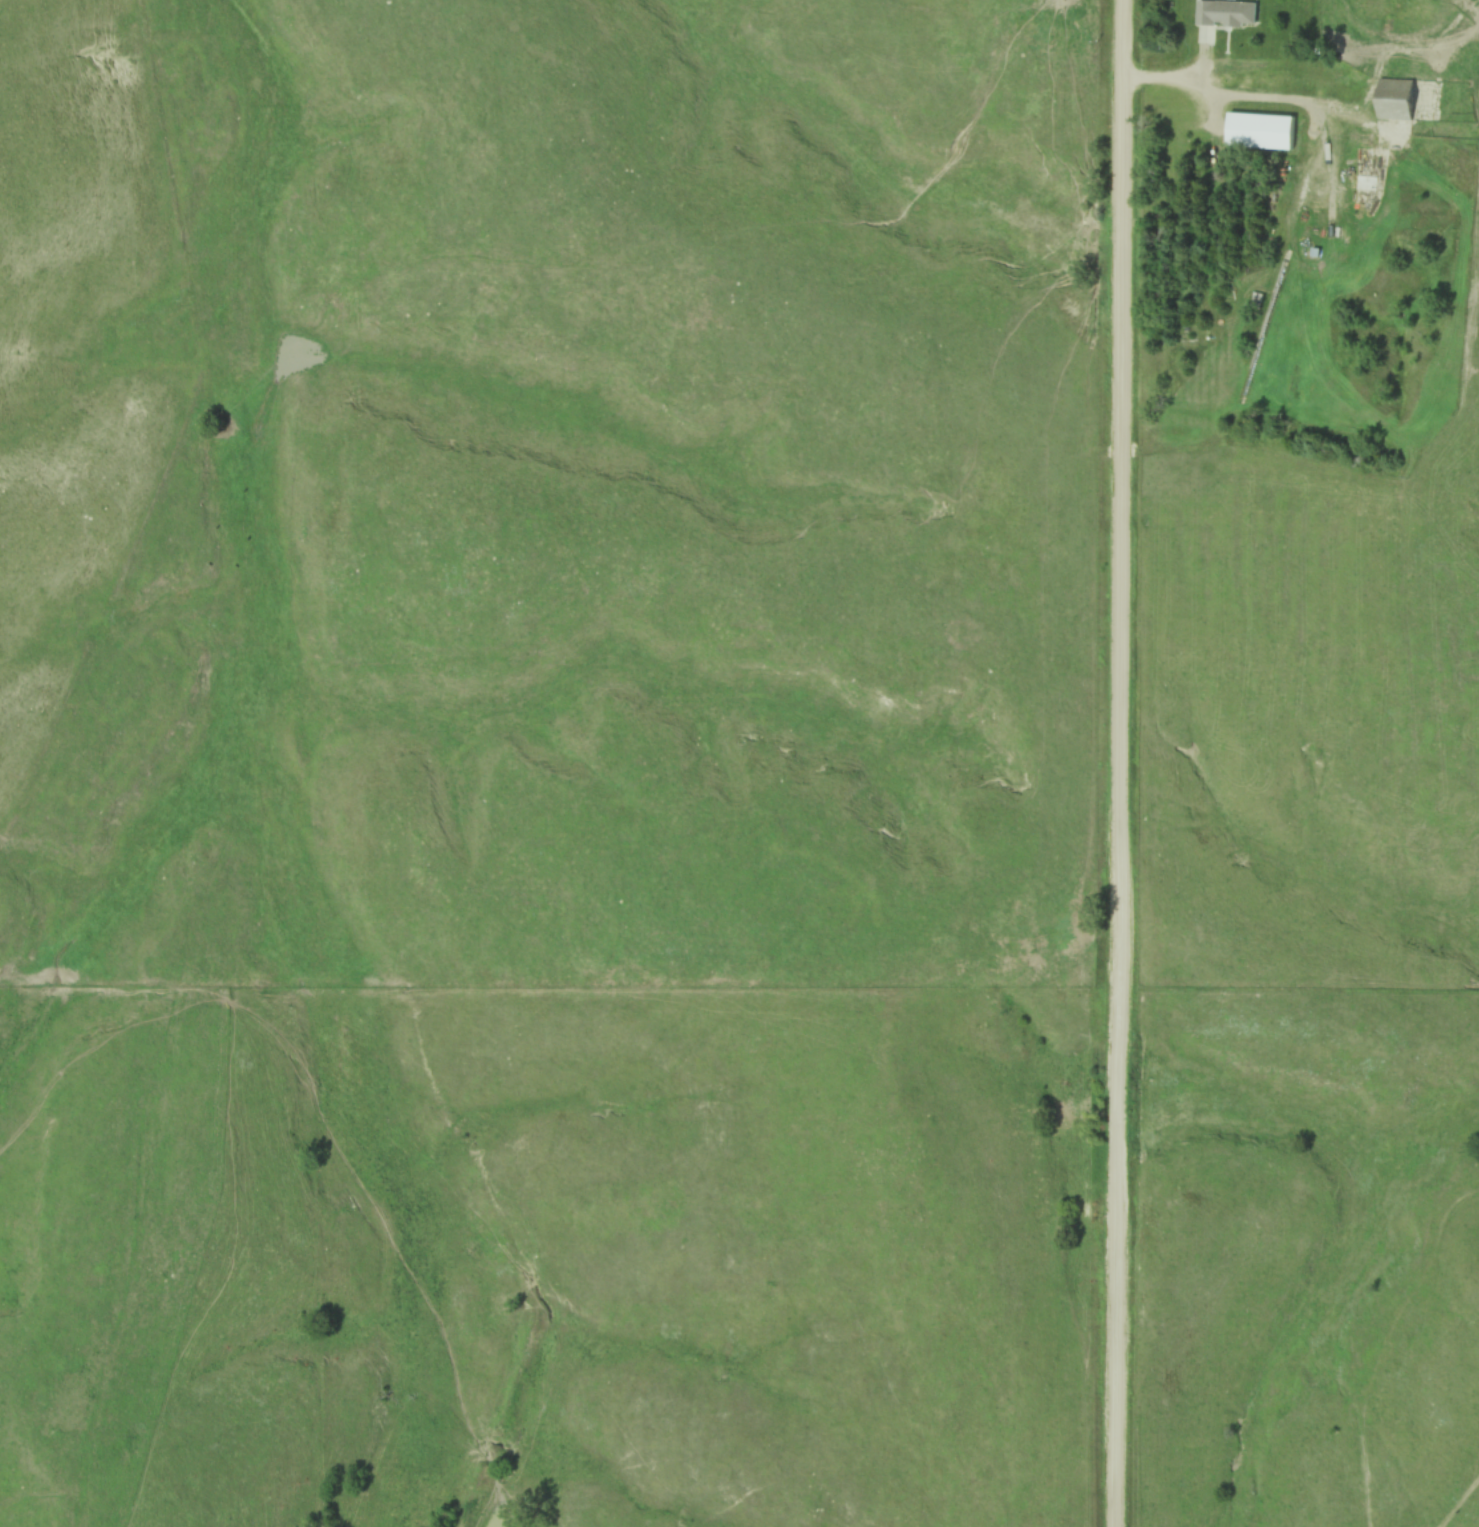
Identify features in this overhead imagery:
building: (1226, 13)
road: (1179, 78)
building: (1259, 132)
road: (1116, 763)

